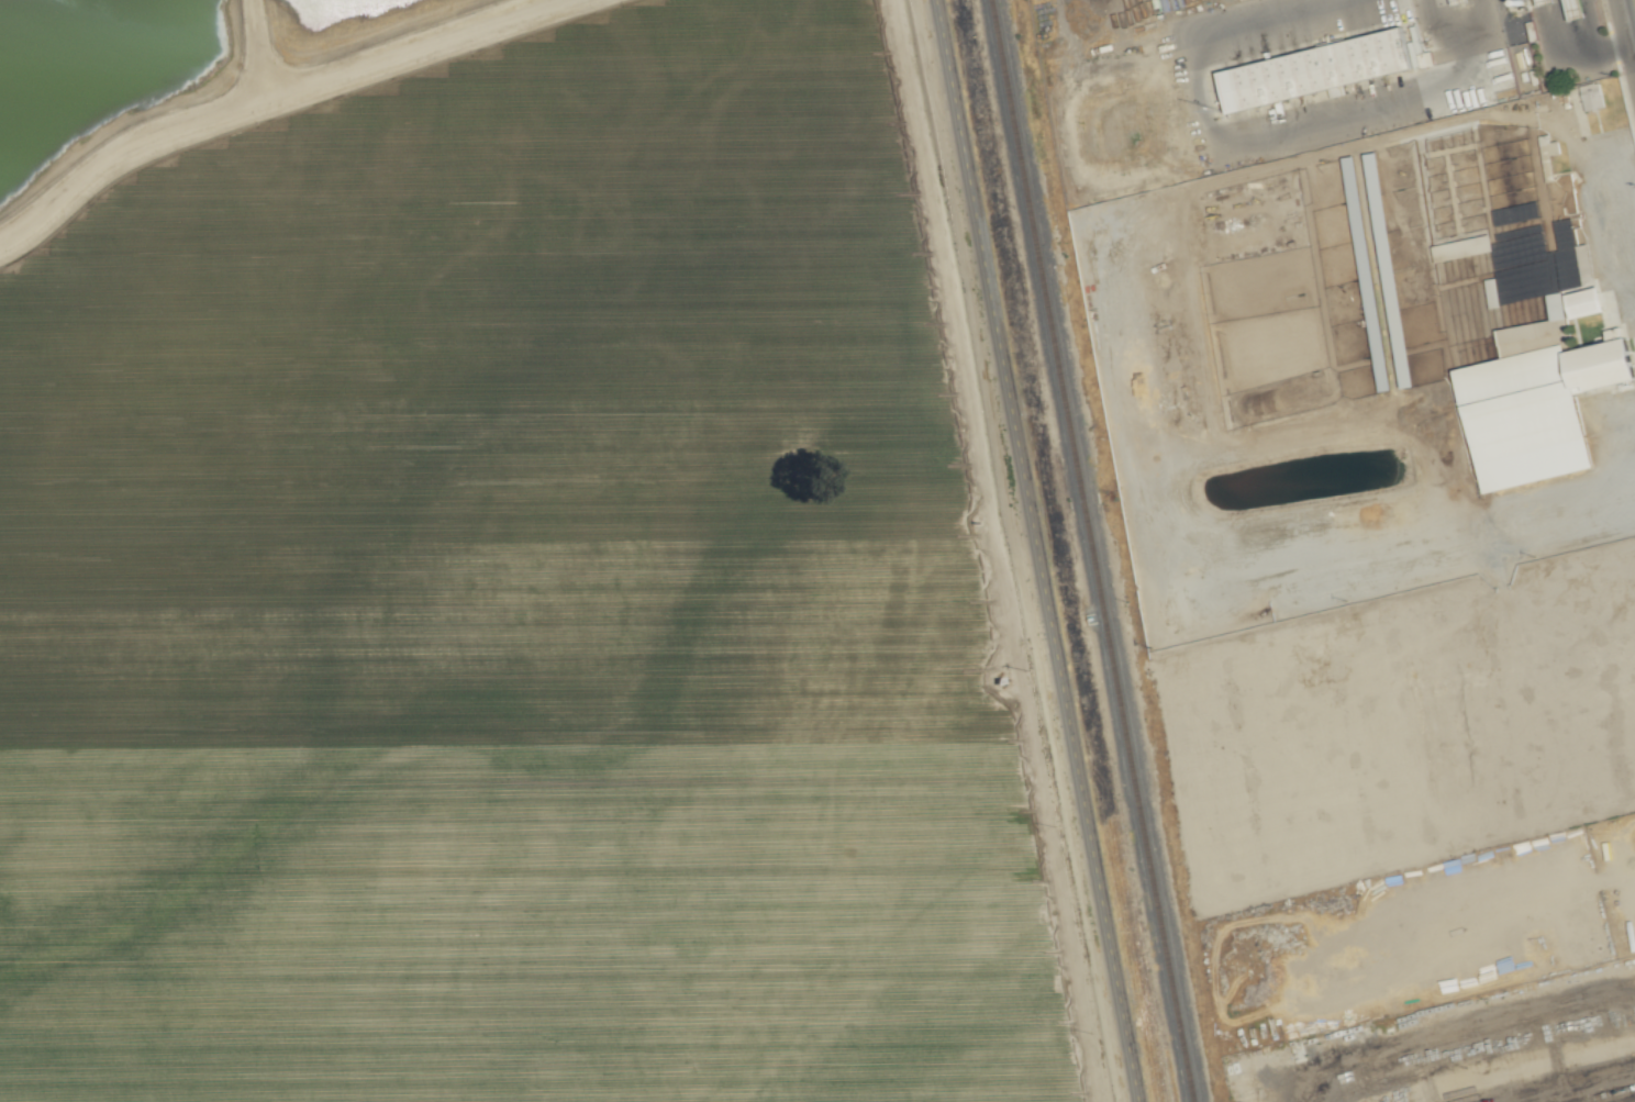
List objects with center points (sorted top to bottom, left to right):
road: (1633, 4)
building: (1319, 71)
building: (1589, 94)
road: (283, 103)
building: (1544, 149)
road: (1364, 198)
building: (1457, 247)
building: (1534, 264)
building: (1399, 371)
building: (1532, 381)
road: (1567, 497)
road: (1036, 550)
railway: (1091, 550)

